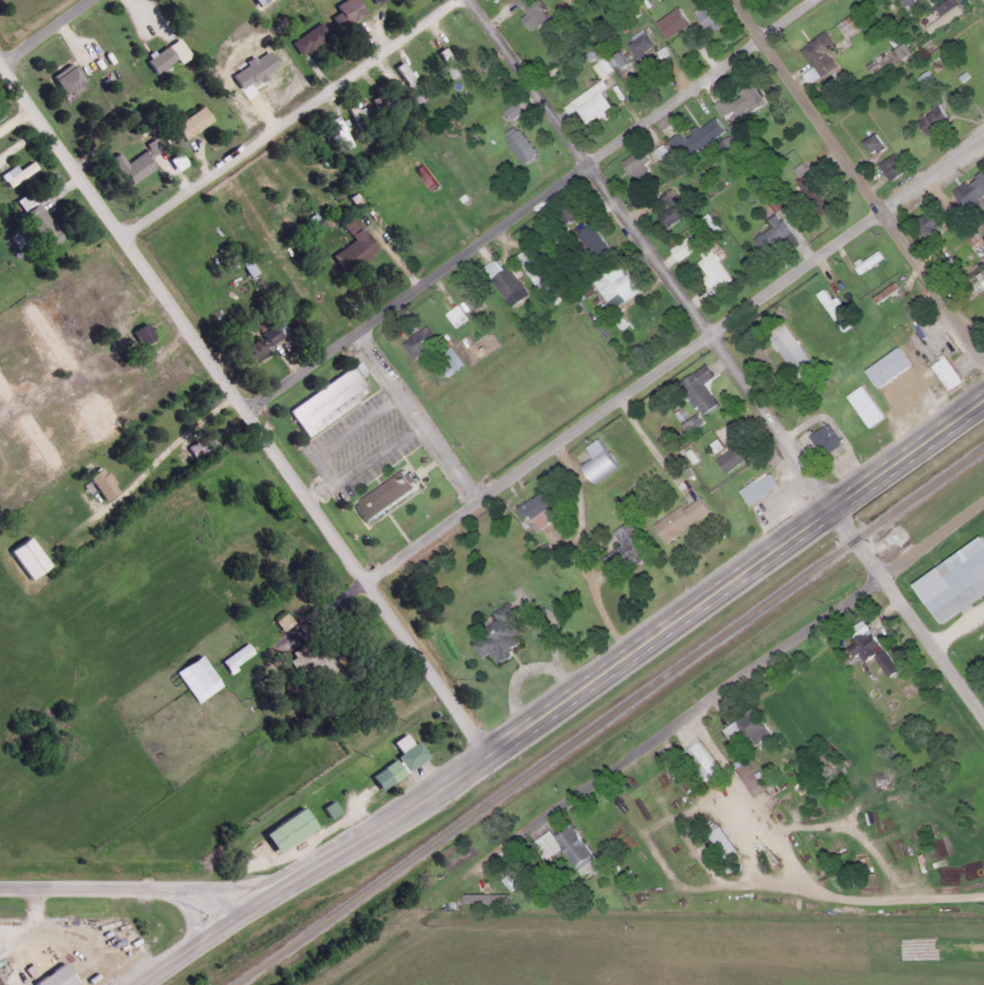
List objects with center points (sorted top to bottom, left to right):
building: (371, 1)
building: (903, 2)
building: (530, 11)
building: (342, 12)
building: (704, 16)
building: (669, 22)
building: (845, 24)
road: (43, 29)
building: (306, 38)
building: (636, 43)
road: (1, 55)
building: (156, 59)
building: (104, 62)
building: (446, 62)
building: (399, 70)
building: (64, 79)
building: (736, 103)
building: (588, 105)
building: (351, 111)
building: (509, 112)
road: (291, 115)
building: (929, 120)
building: (188, 121)
building: (337, 131)
building: (693, 136)
building: (870, 144)
building: (518, 147)
building: (632, 164)
building: (128, 166)
building: (888, 167)
building: (13, 172)
road: (856, 179)
building: (810, 190)
building: (961, 196)
road: (530, 204)
building: (565, 211)
building: (666, 216)
building: (34, 221)
building: (925, 223)
building: (769, 235)
building: (561, 238)
building: (349, 244)
building: (865, 261)
building: (709, 268)
building: (529, 271)
building: (979, 277)
building: (499, 278)
building: (610, 285)
building: (882, 293)
building: (111, 298)
building: (900, 310)
building: (133, 337)
building: (416, 341)
building: (258, 342)
building: (787, 350)
road: (730, 354)
road: (679, 355)
building: (449, 357)
building: (57, 358)
building: (885, 367)
building: (944, 372)
building: (695, 389)
building: (324, 400)
road: (246, 403)
building: (862, 406)
road: (420, 416)
building: (823, 441)
building: (190, 448)
building: (731, 456)
building: (594, 461)
building: (99, 482)
building: (755, 488)
building: (380, 497)
building: (533, 509)
building: (678, 518)
building: (624, 545)
road: (737, 571)
building: (952, 580)
building: (496, 634)
building: (861, 644)
building: (233, 656)
building: (883, 661)
building: (194, 676)
road: (697, 701)
railway: (607, 714)
building: (744, 726)
building: (697, 759)
building: (395, 760)
building: (750, 775)
road: (758, 796)
building: (326, 807)
building: (284, 828)
road: (369, 831)
building: (720, 840)
building: (562, 847)
building: (507, 879)
road: (773, 886)
road: (125, 887)
building: (484, 898)
road: (196, 950)
building: (51, 976)

